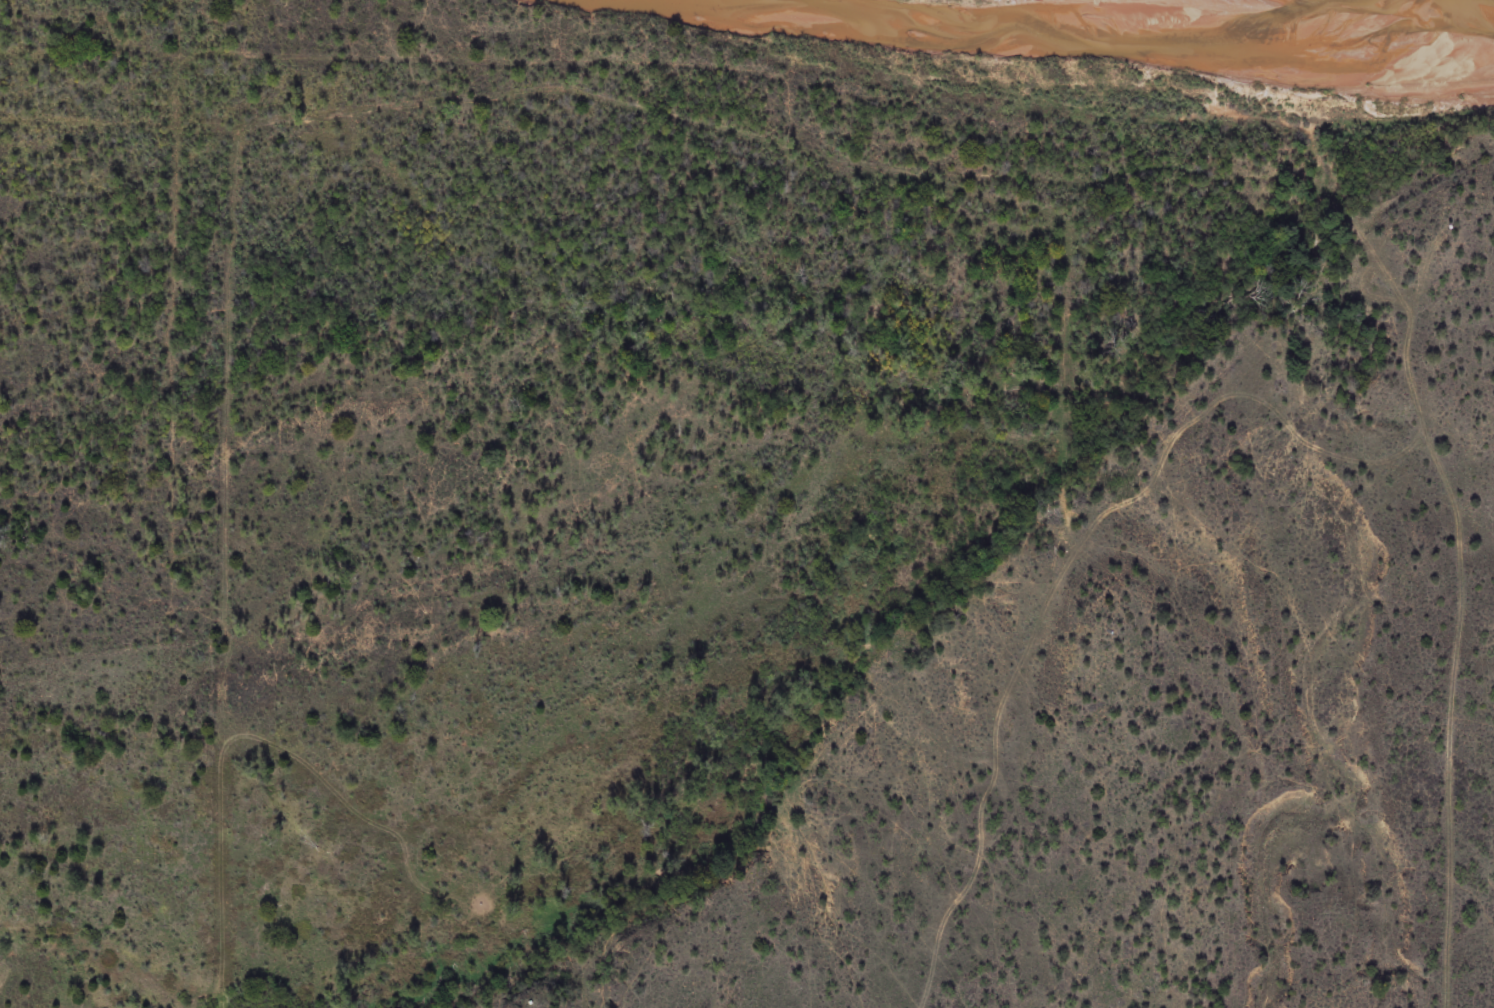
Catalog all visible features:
river: (1305, 100)
road: (1476, 685)

